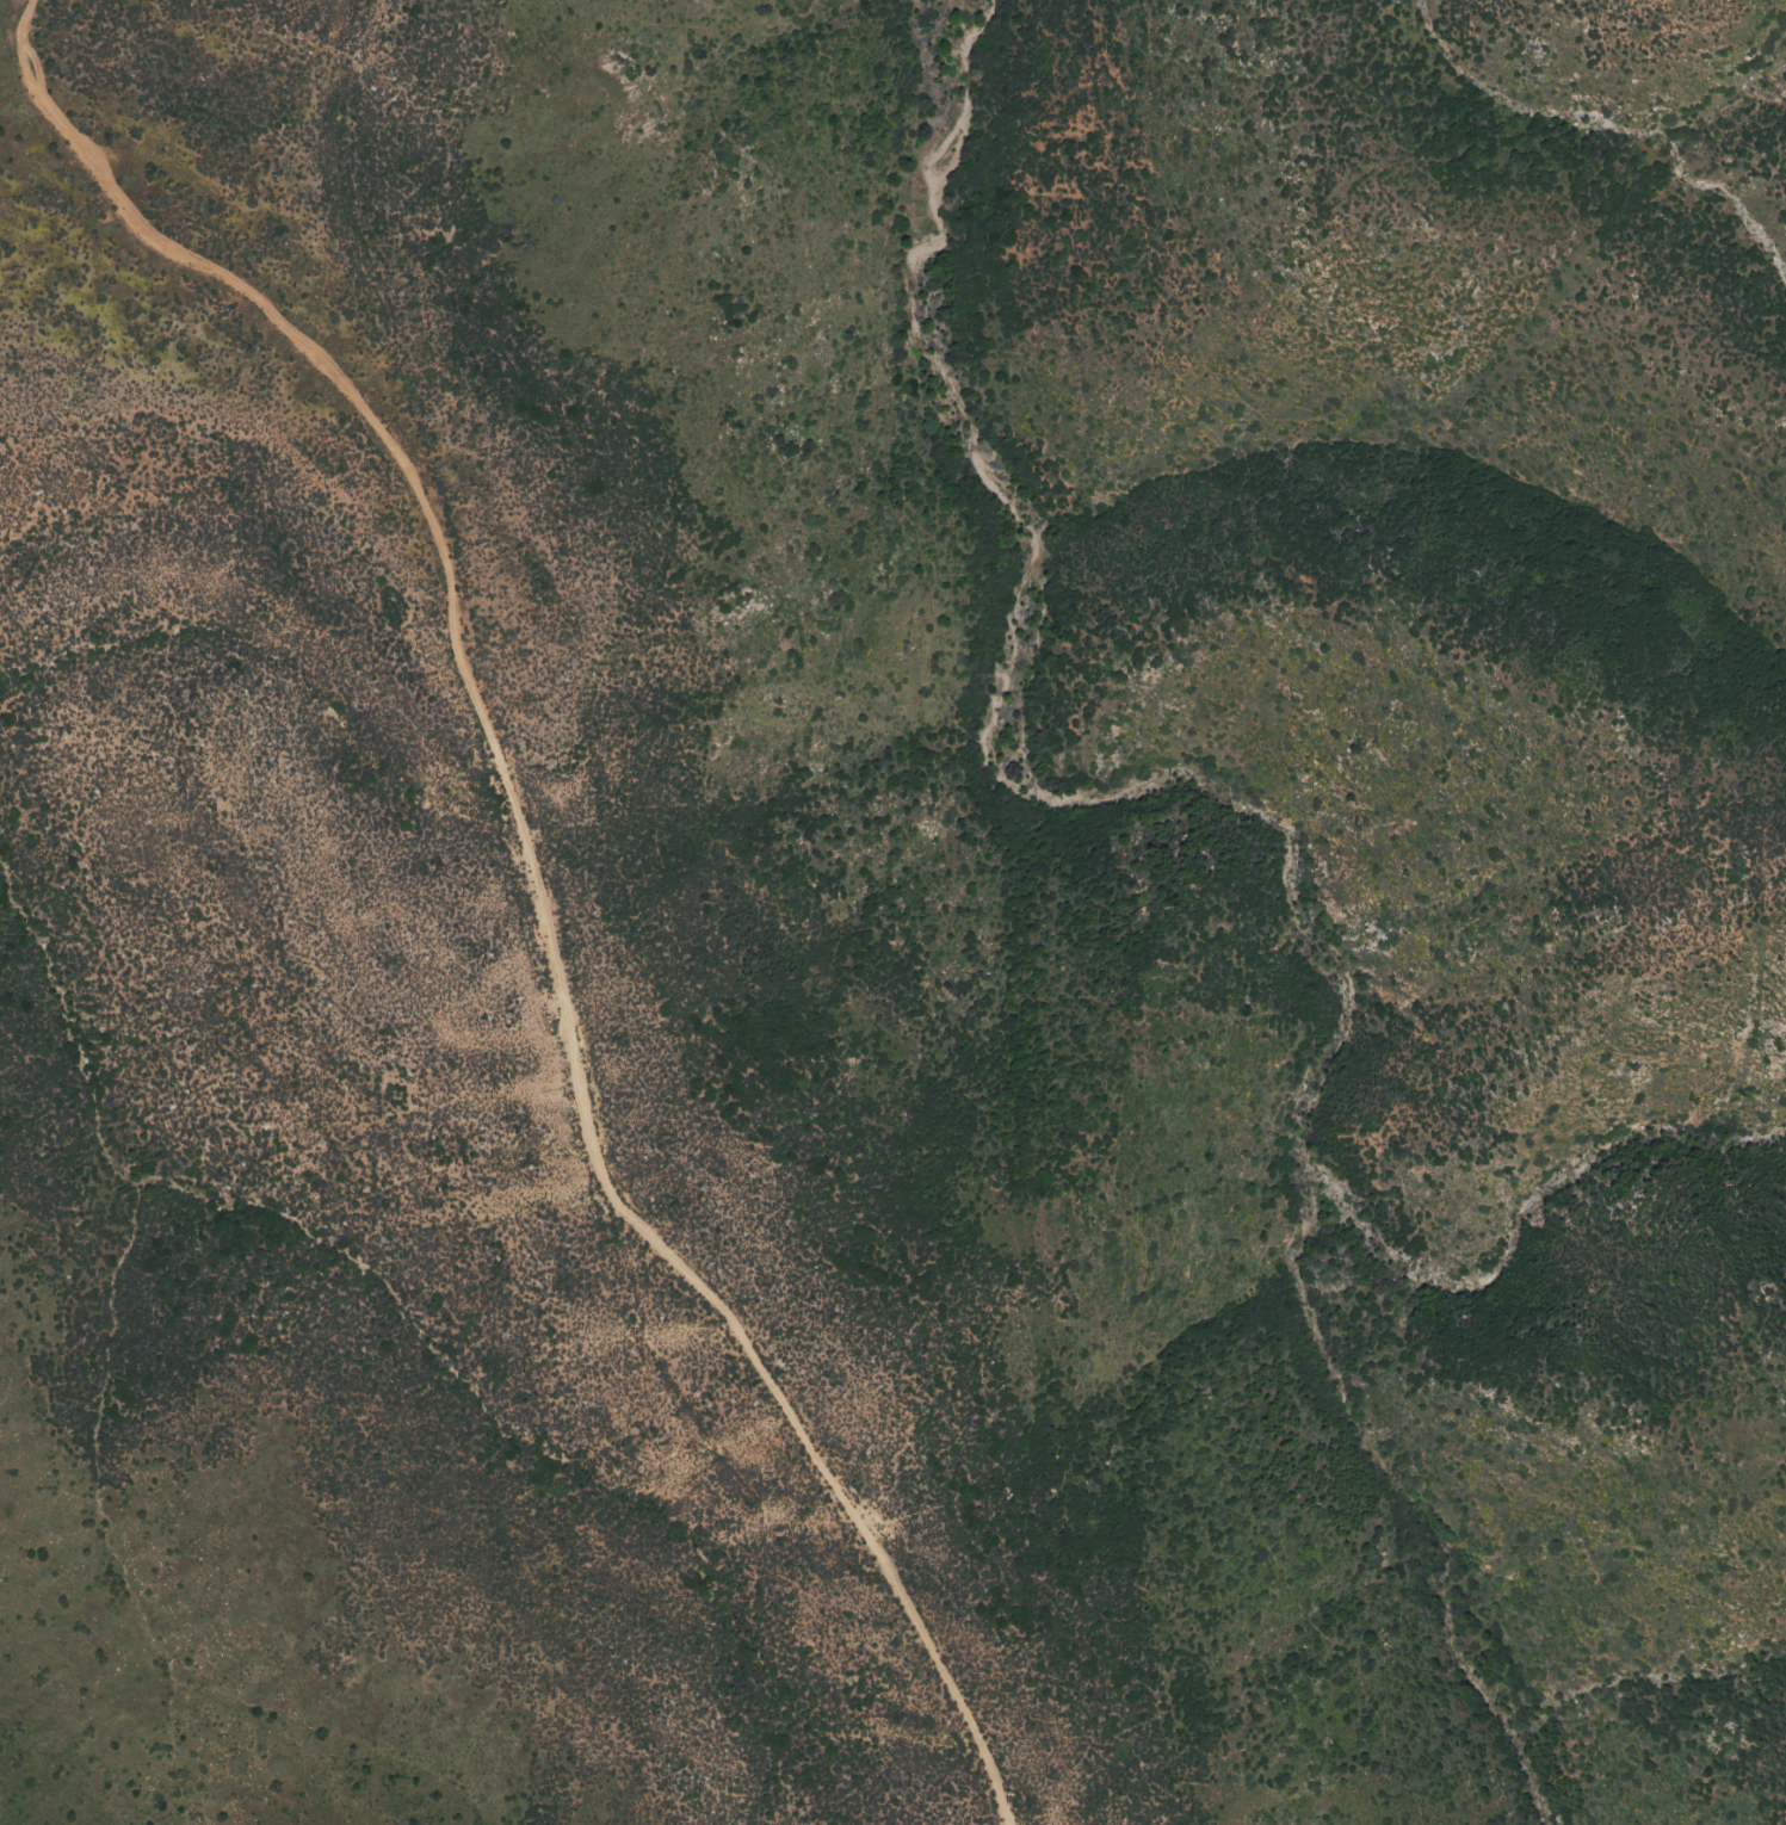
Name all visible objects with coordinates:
road: (532, 883)

